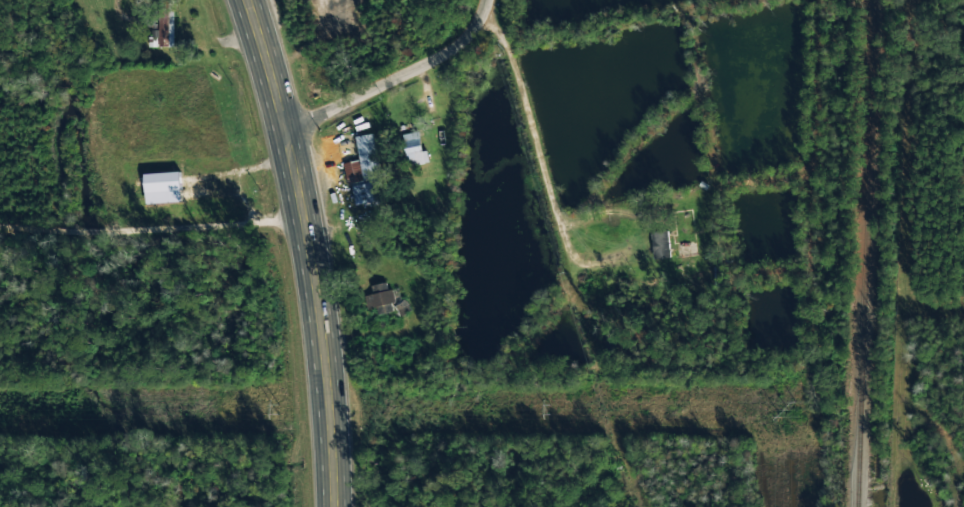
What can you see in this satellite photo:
building: (163, 30)
road: (394, 77)
building: (414, 146)
building: (363, 169)
building: (162, 186)
building: (660, 242)
road: (309, 250)
railway: (864, 253)
building: (388, 300)
power tower: (274, 411)
power tower: (545, 411)
power tower: (782, 411)

